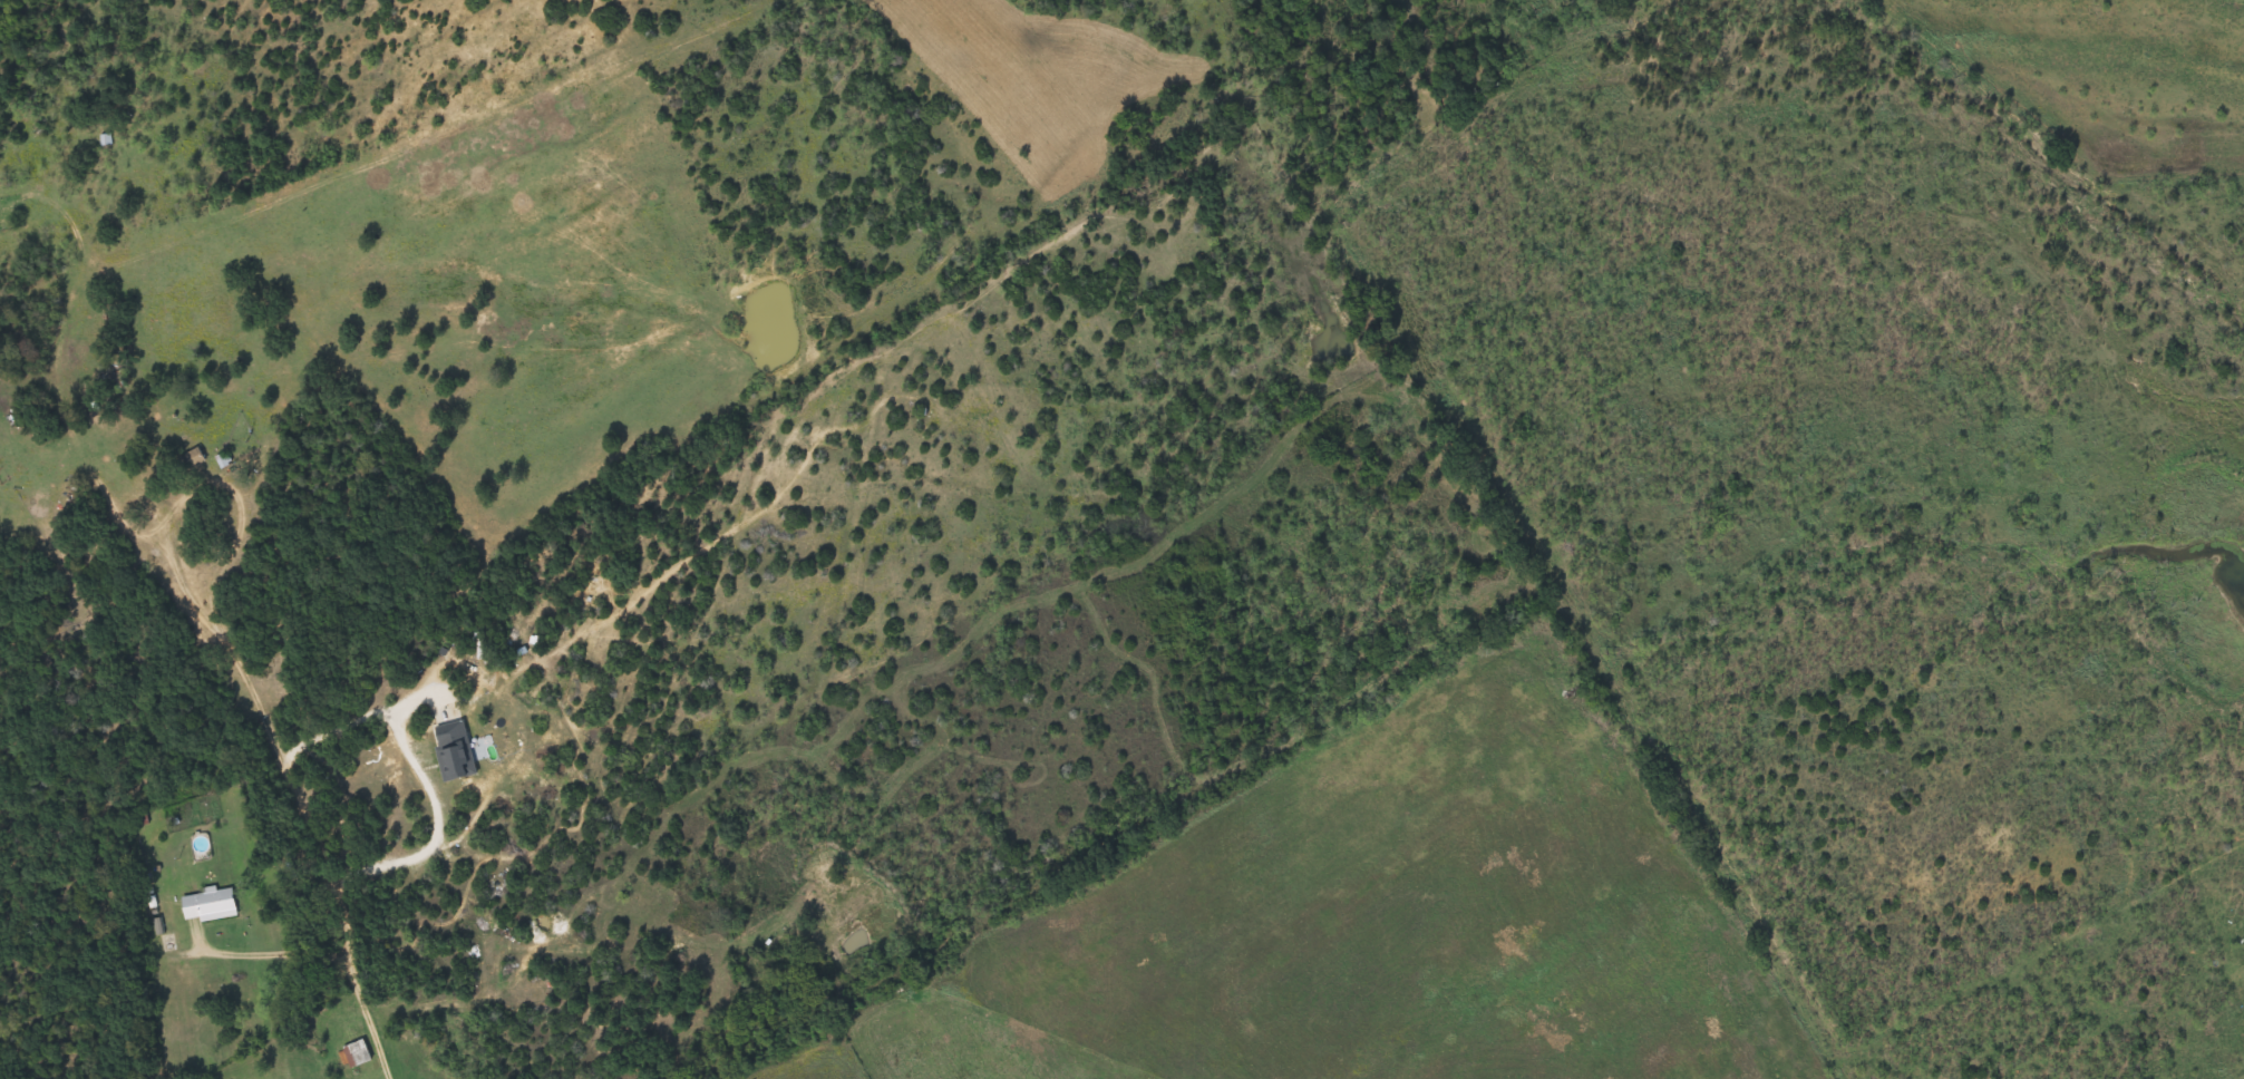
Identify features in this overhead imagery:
building: (108, 140)
building: (195, 458)
road: (215, 641)
road: (135, 680)
road: (417, 769)
building: (212, 906)
building: (359, 1053)

